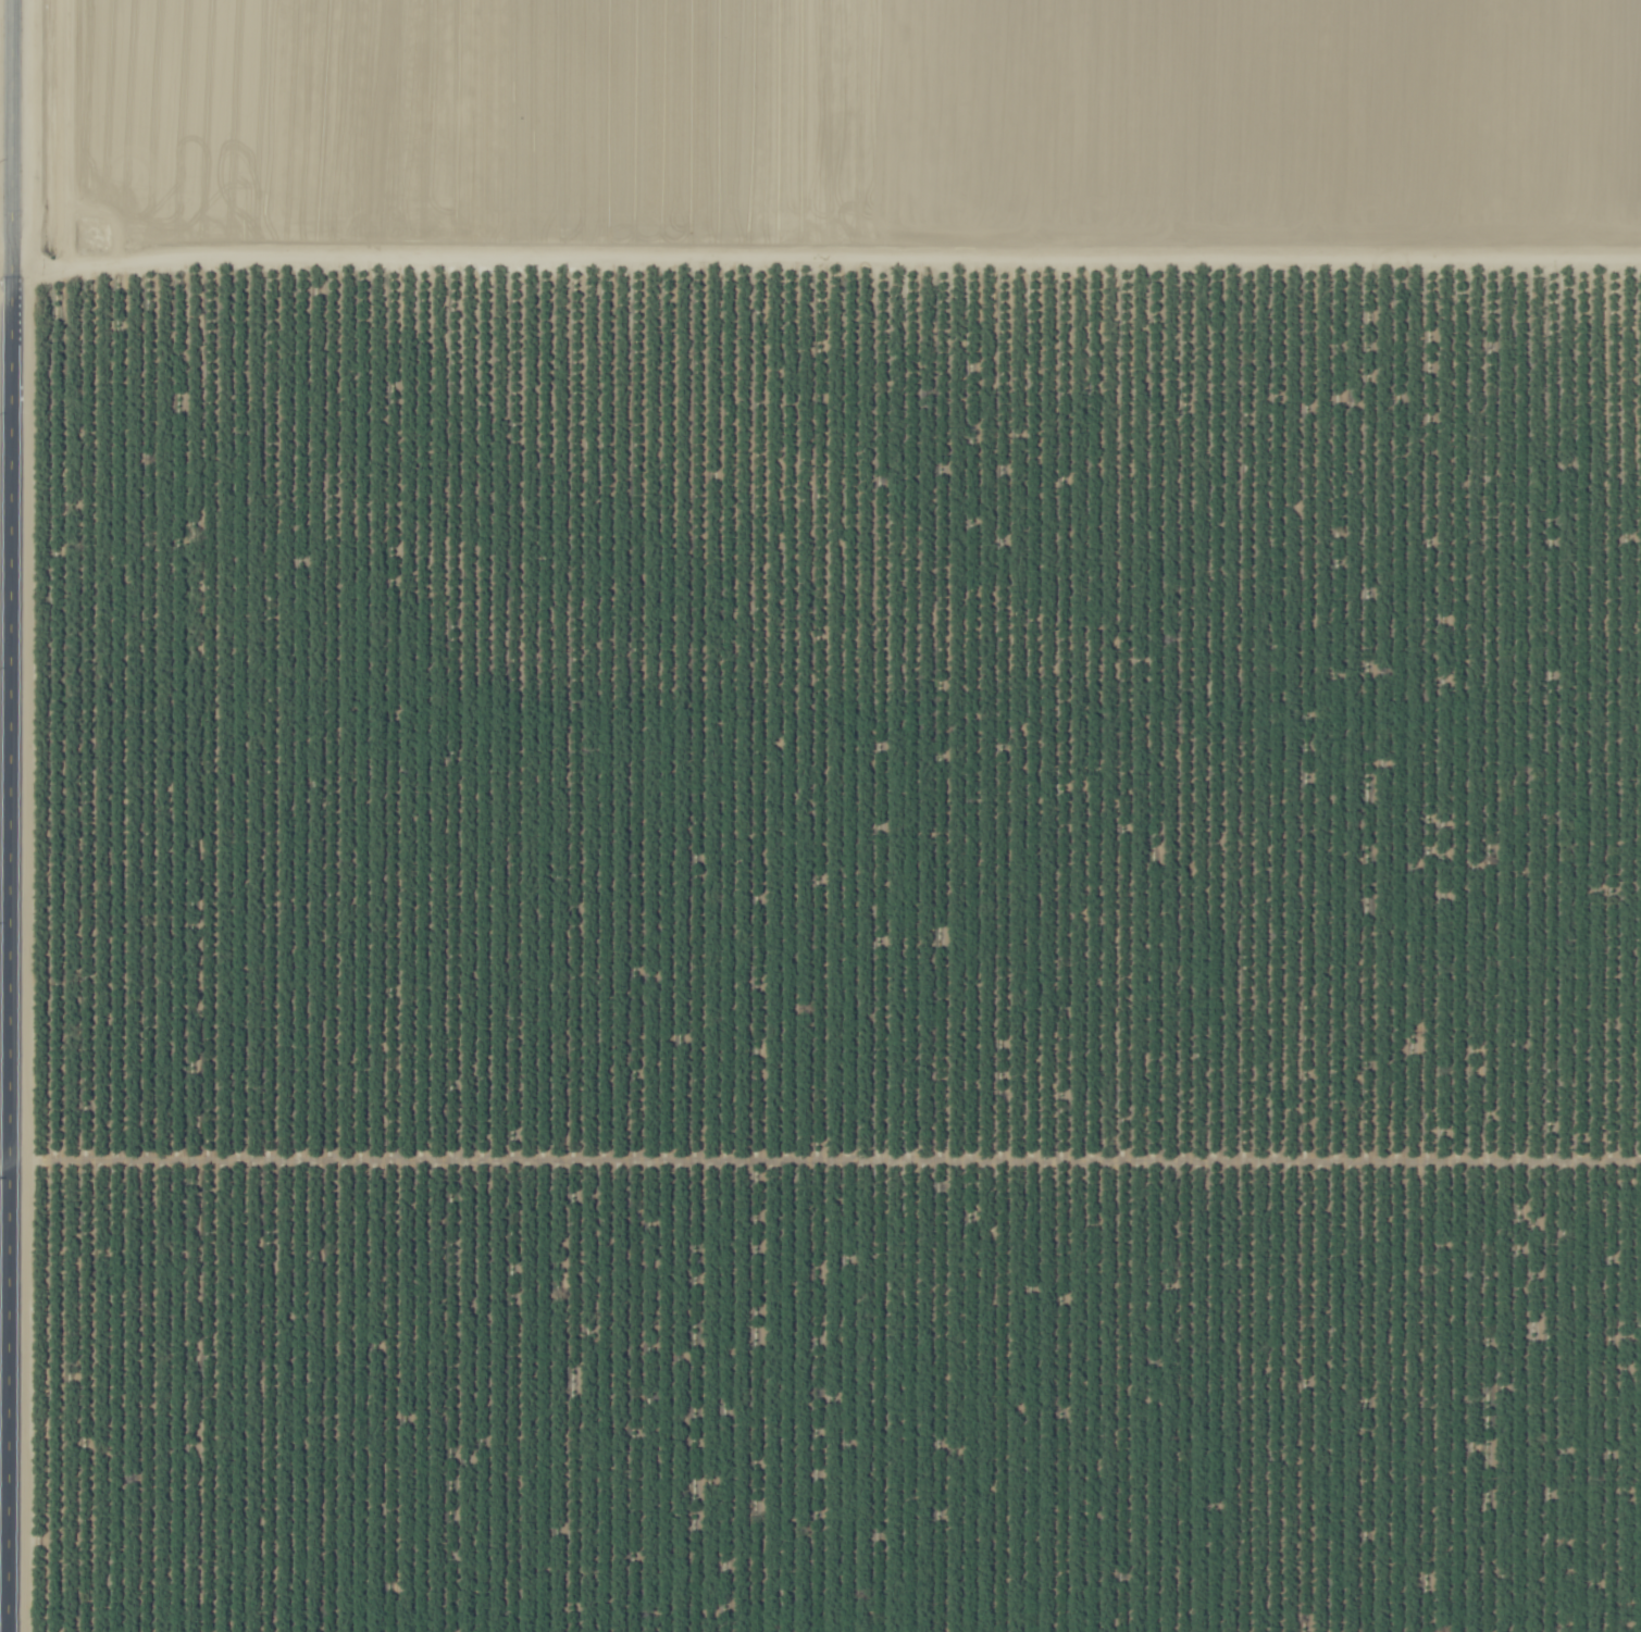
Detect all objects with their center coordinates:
road: (820, 257)
road: (11, 815)
crop: (834, 817)

